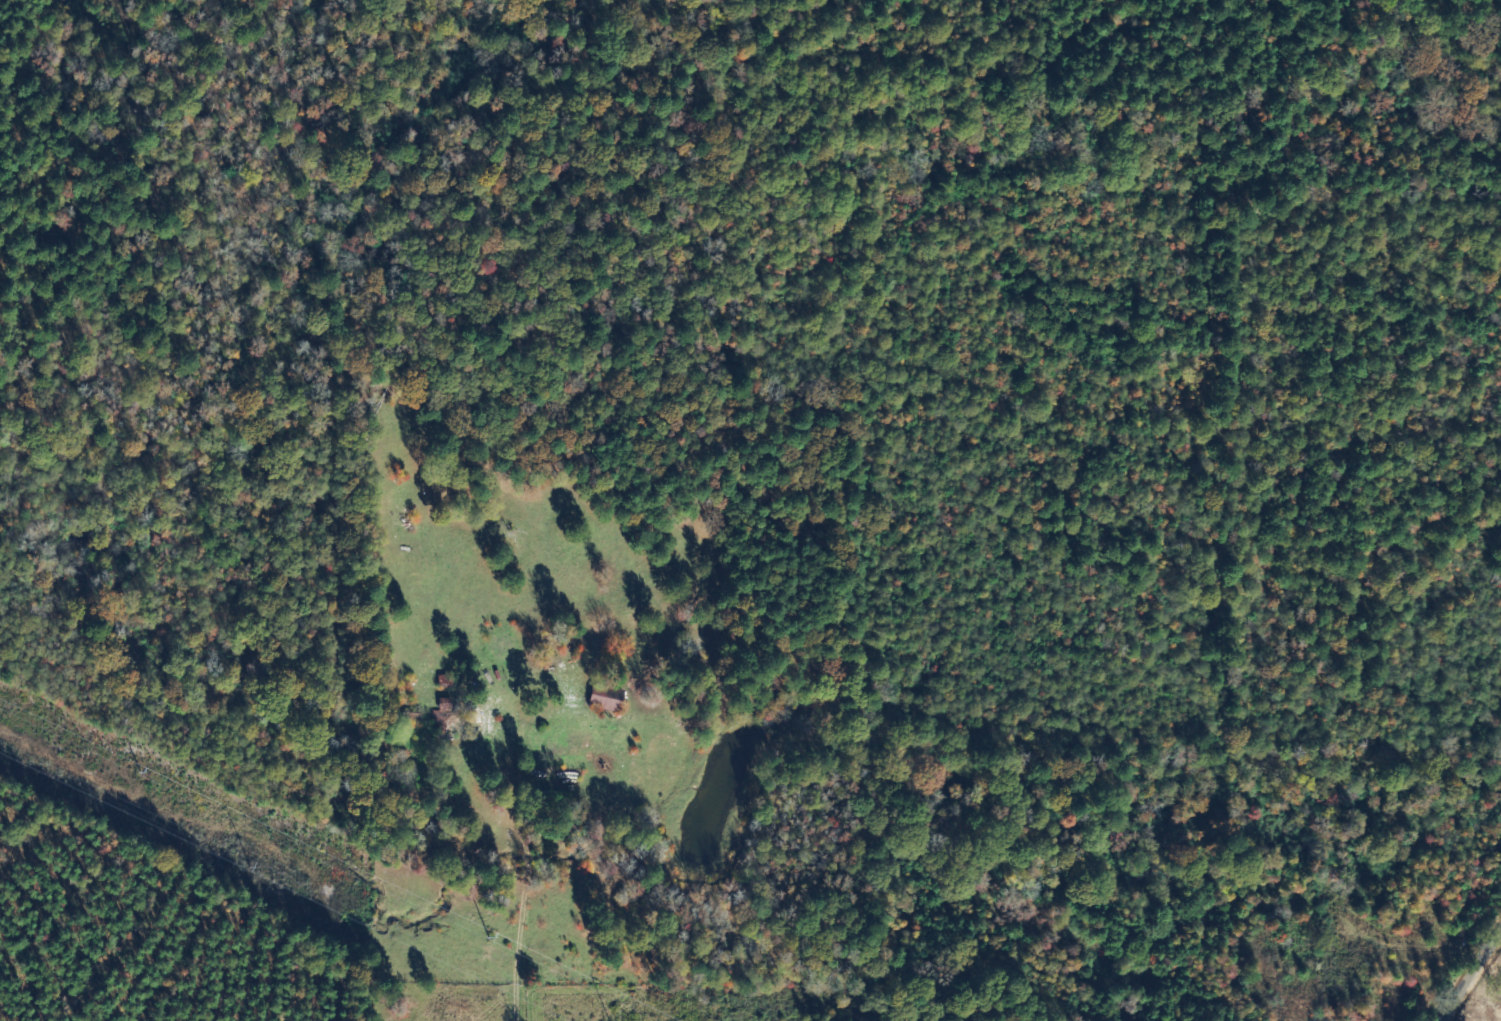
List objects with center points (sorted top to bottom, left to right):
building: (607, 698)
building: (442, 710)
road: (1477, 987)

